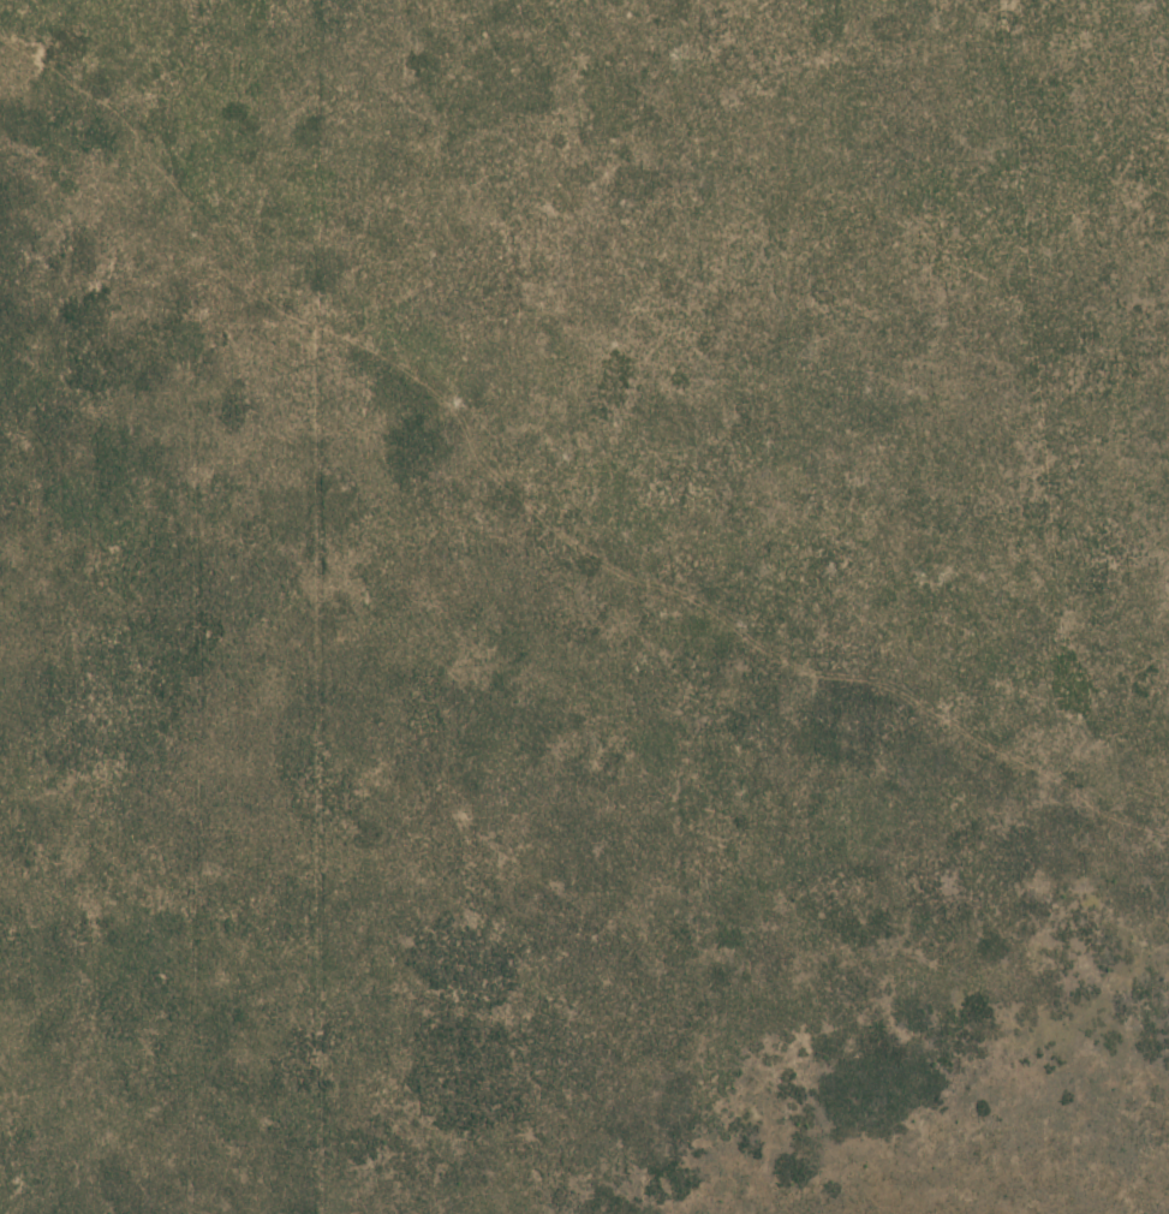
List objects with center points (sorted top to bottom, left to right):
helipad: (458, 1202)

